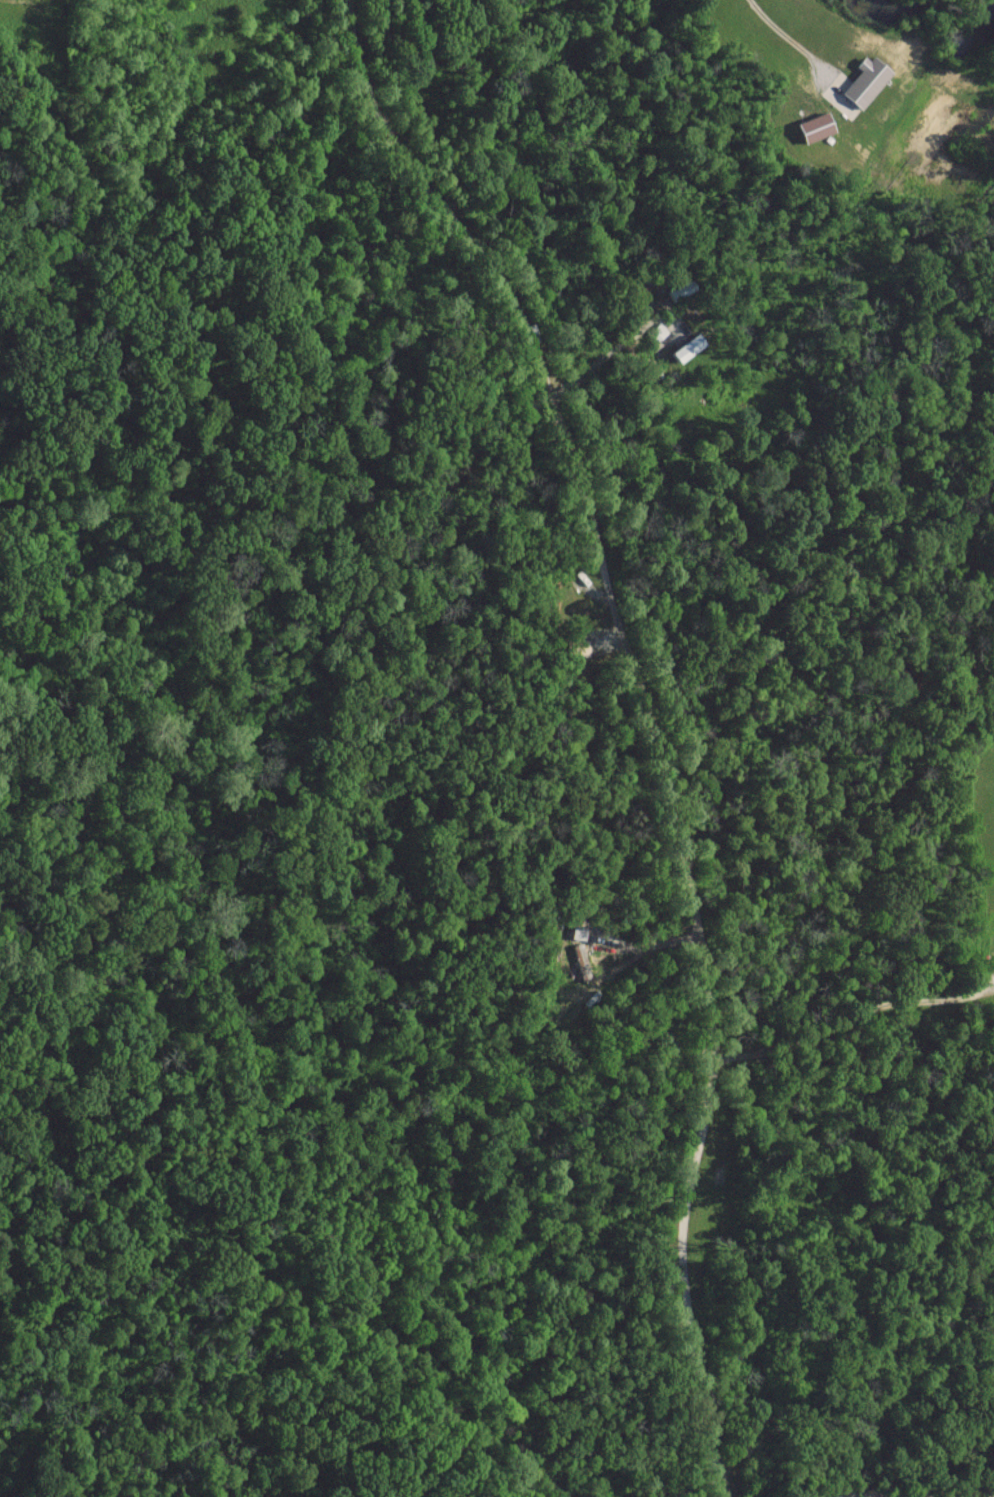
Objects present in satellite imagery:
road: (785, 34)
building: (868, 81)
building: (818, 126)
building: (681, 288)
building: (691, 347)
road: (594, 366)
road: (649, 719)
road: (852, 1015)

